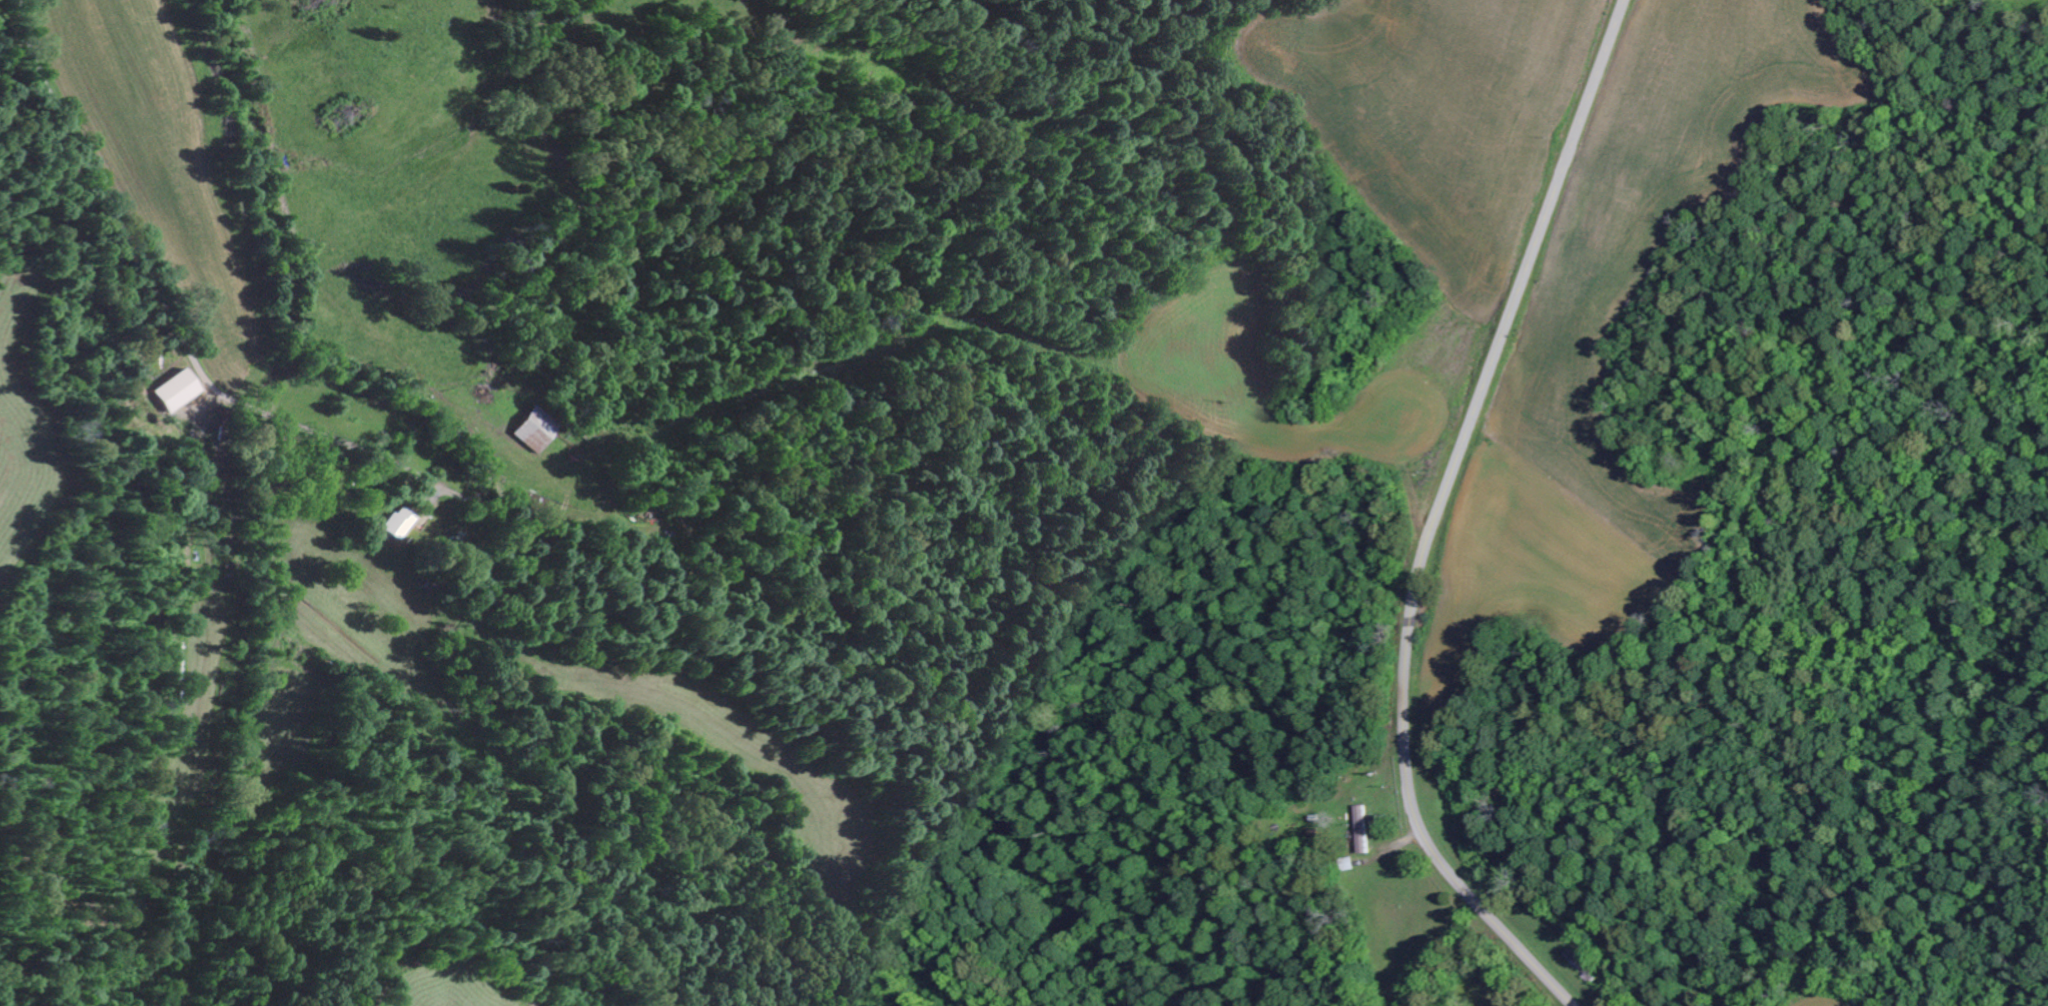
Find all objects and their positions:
building: (170, 390)
road: (1436, 517)
building: (396, 522)
building: (1363, 826)

